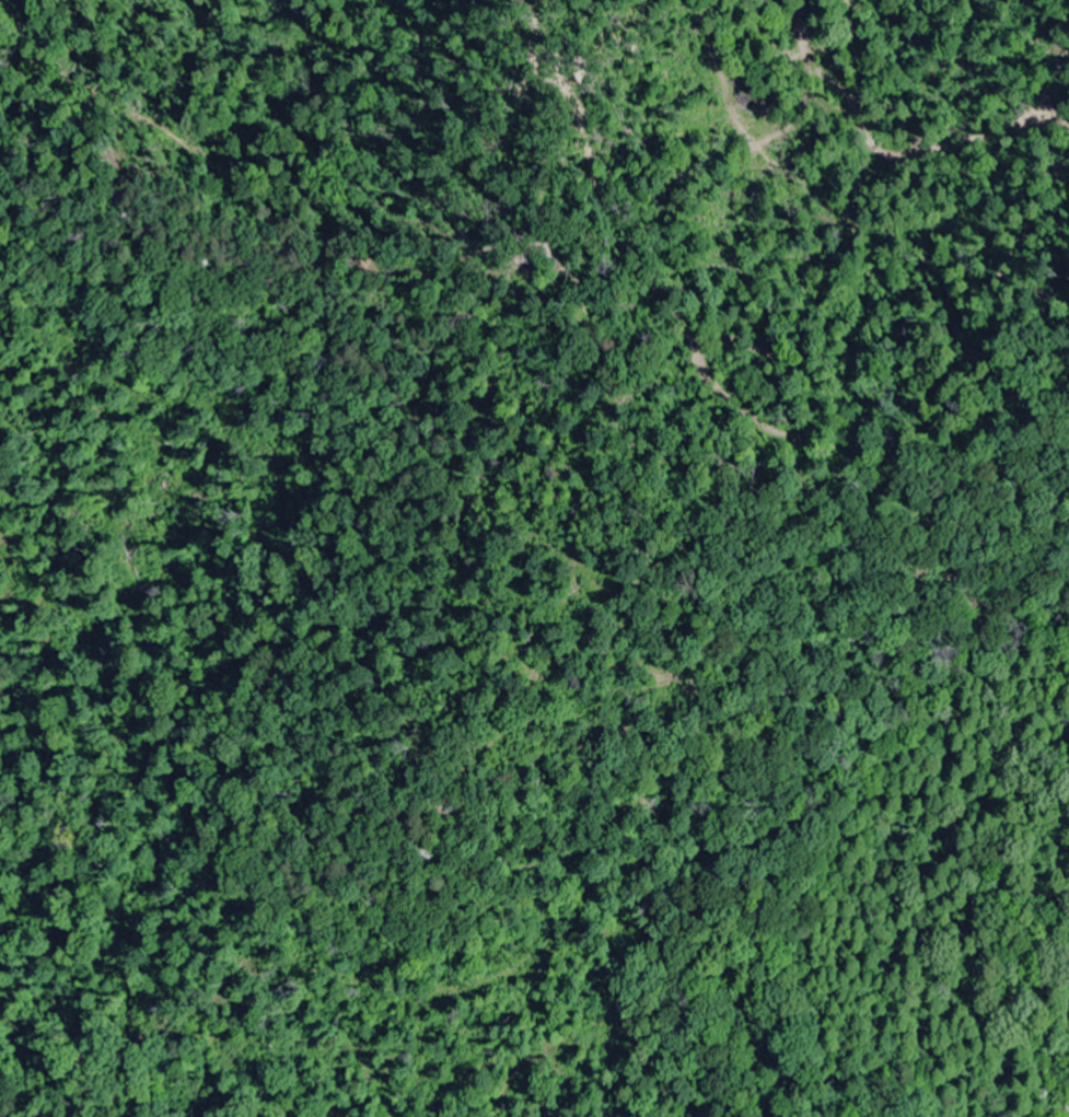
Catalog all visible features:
road: (96, 702)
road: (833, 706)

